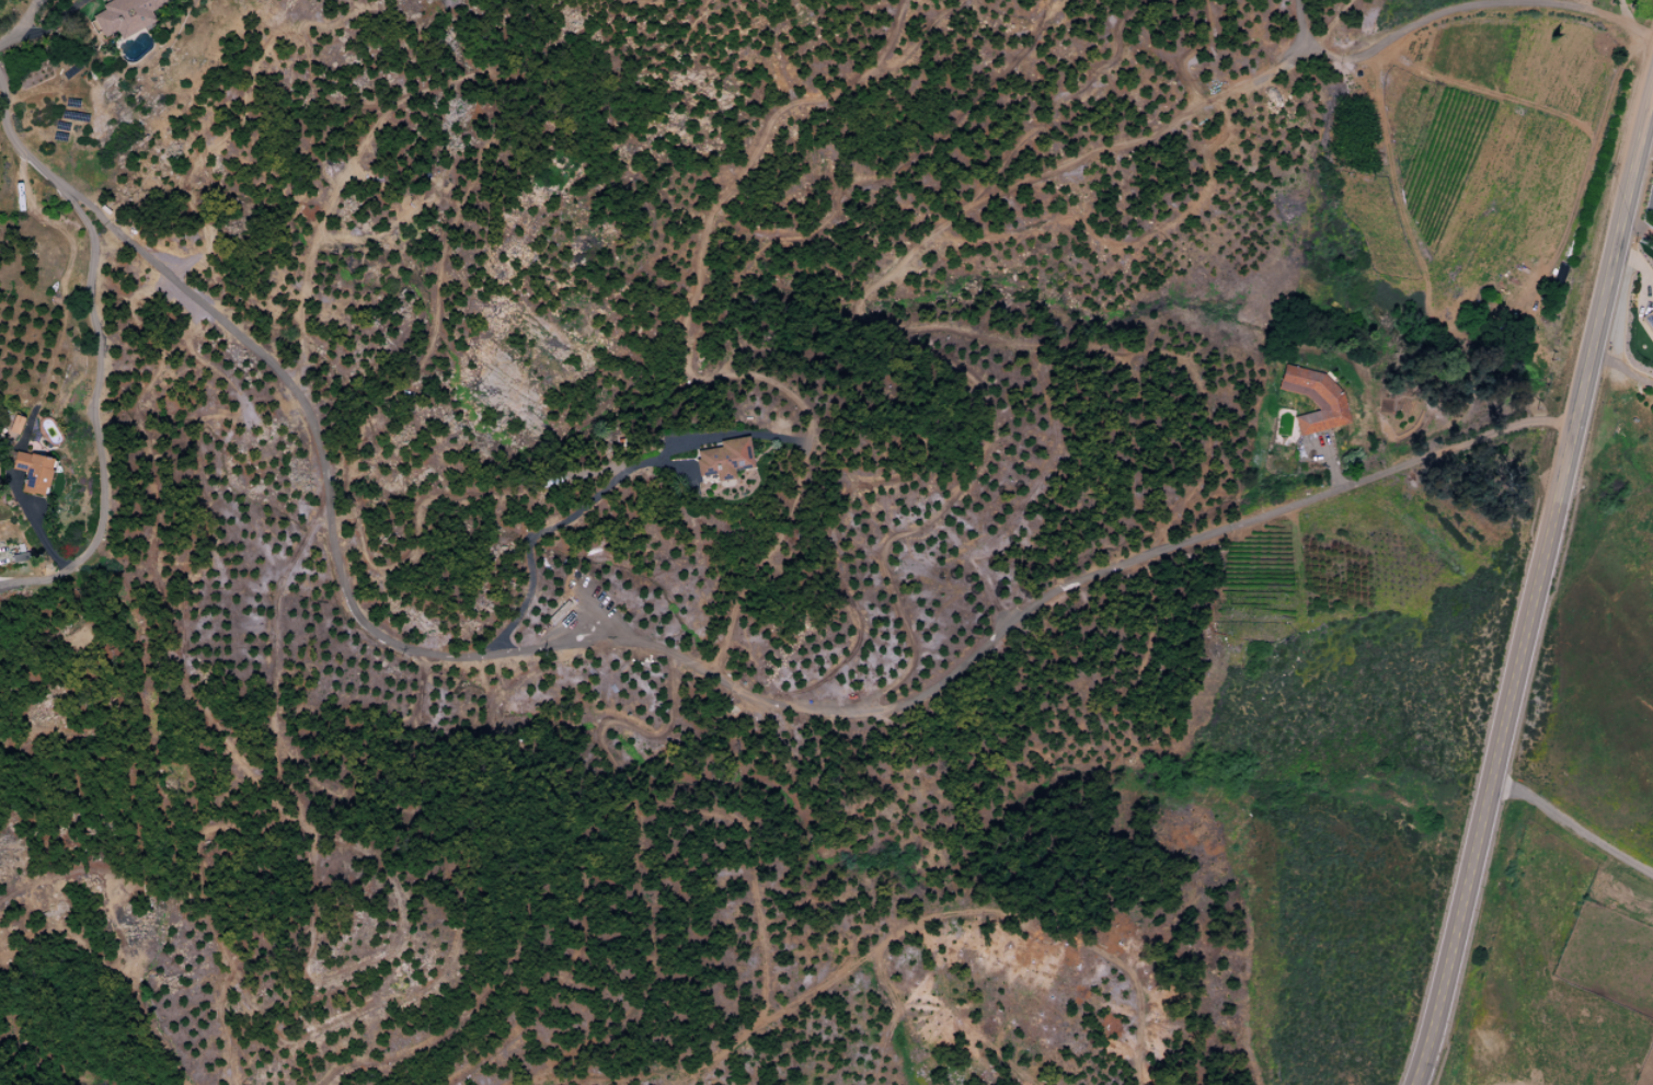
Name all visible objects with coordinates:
road: (1456, 7)
road: (1619, 10)
building: (125, 16)
road: (22, 23)
road: (51, 24)
road: (1650, 120)
road: (1639, 228)
building: (1648, 321)
road: (1621, 370)
building: (1313, 400)
road: (92, 415)
building: (13, 430)
building: (723, 459)
road: (1333, 462)
building: (32, 472)
road: (573, 516)
road: (35, 521)
road: (1534, 590)
road: (661, 648)
road: (1570, 824)

